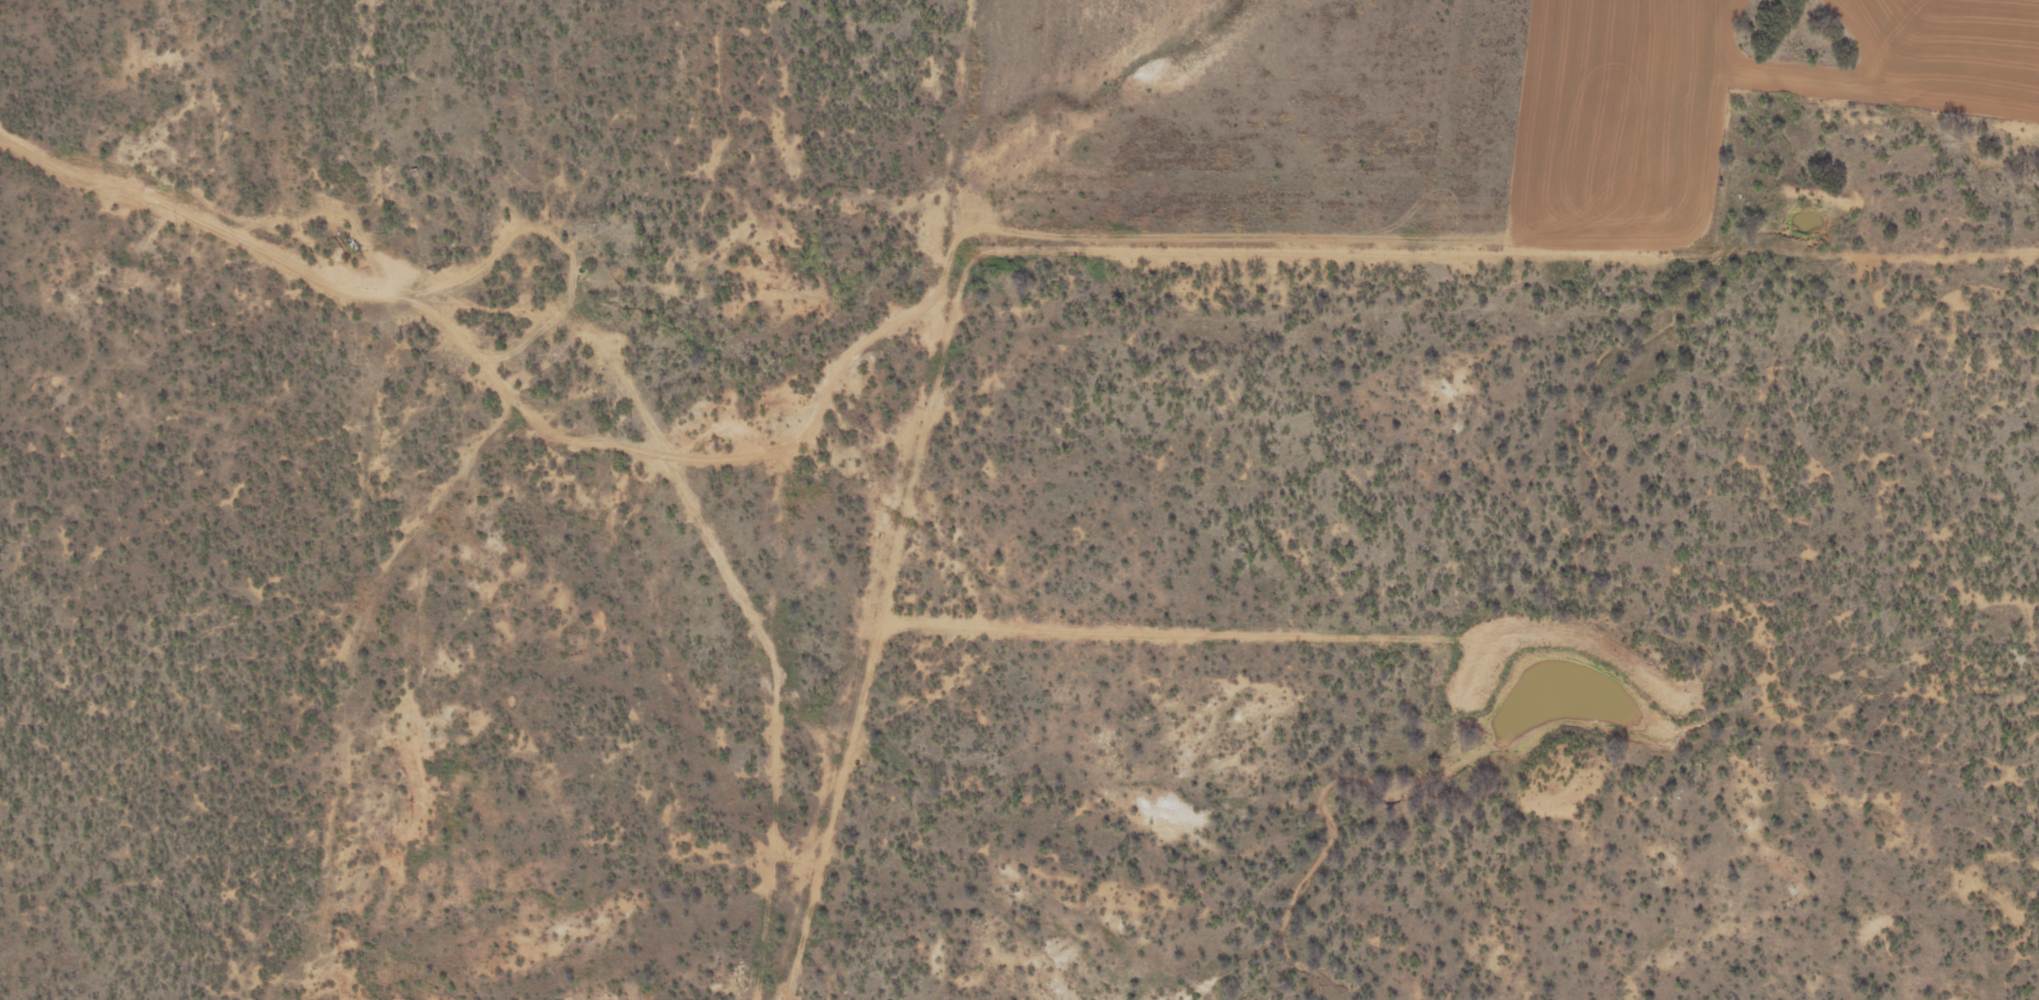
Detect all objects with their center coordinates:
road: (234, 237)
road: (724, 457)
road: (507, 482)
road: (358, 756)

